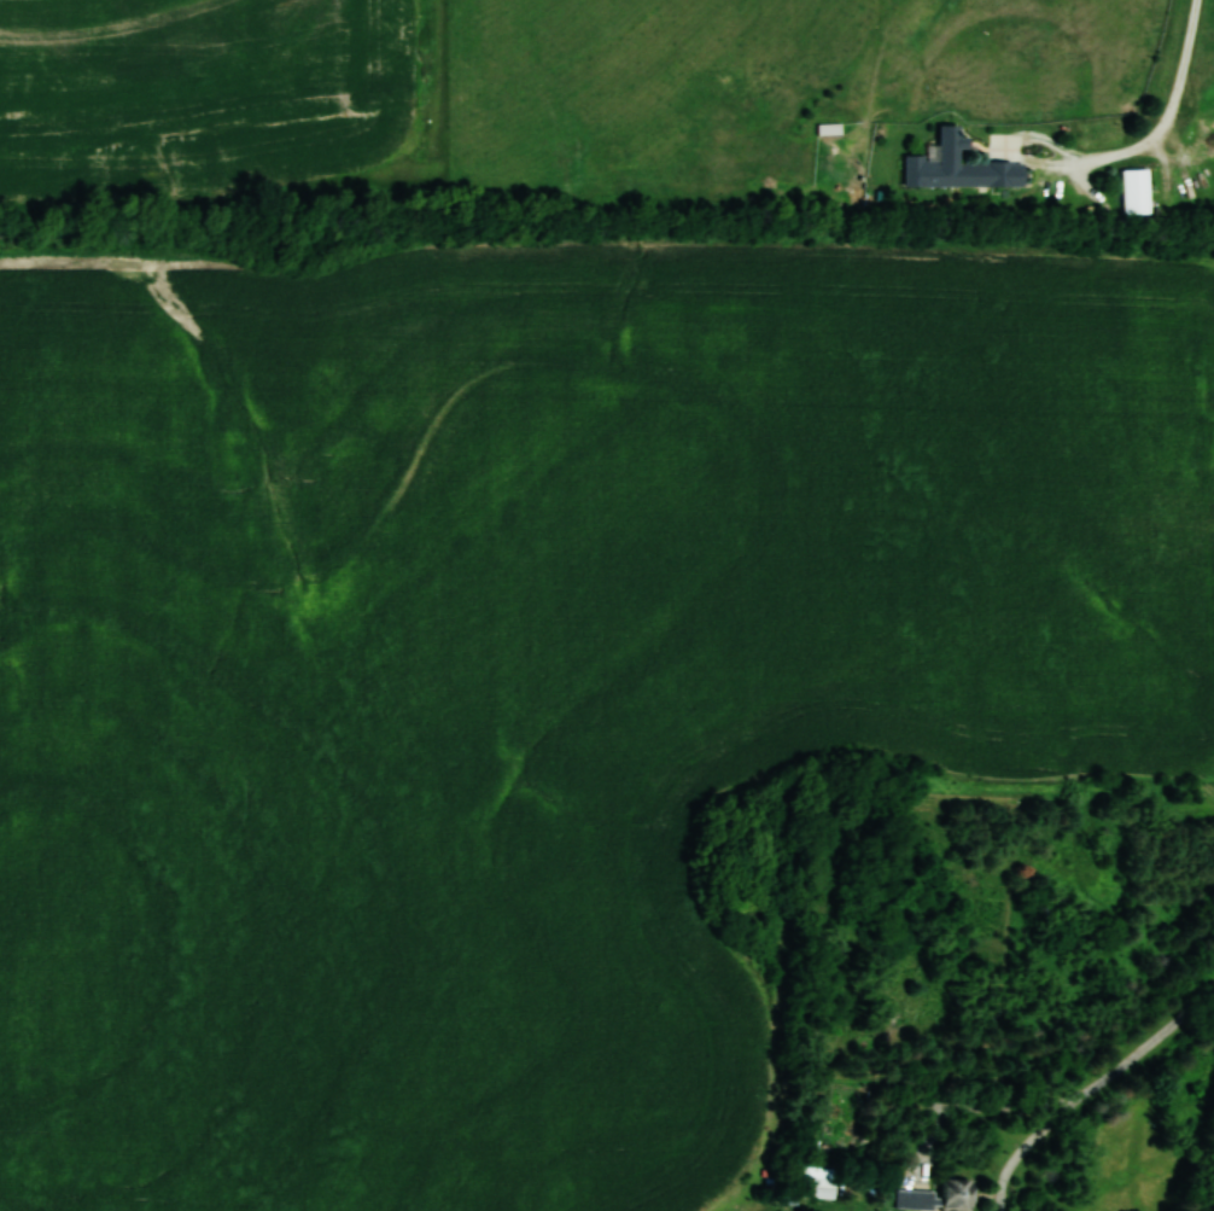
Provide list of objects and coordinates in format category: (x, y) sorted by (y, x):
road: (1169, 115)
building: (828, 129)
road: (1015, 147)
building: (949, 173)
building: (1136, 192)
road: (1091, 1090)
building: (819, 1187)
building: (939, 1197)

